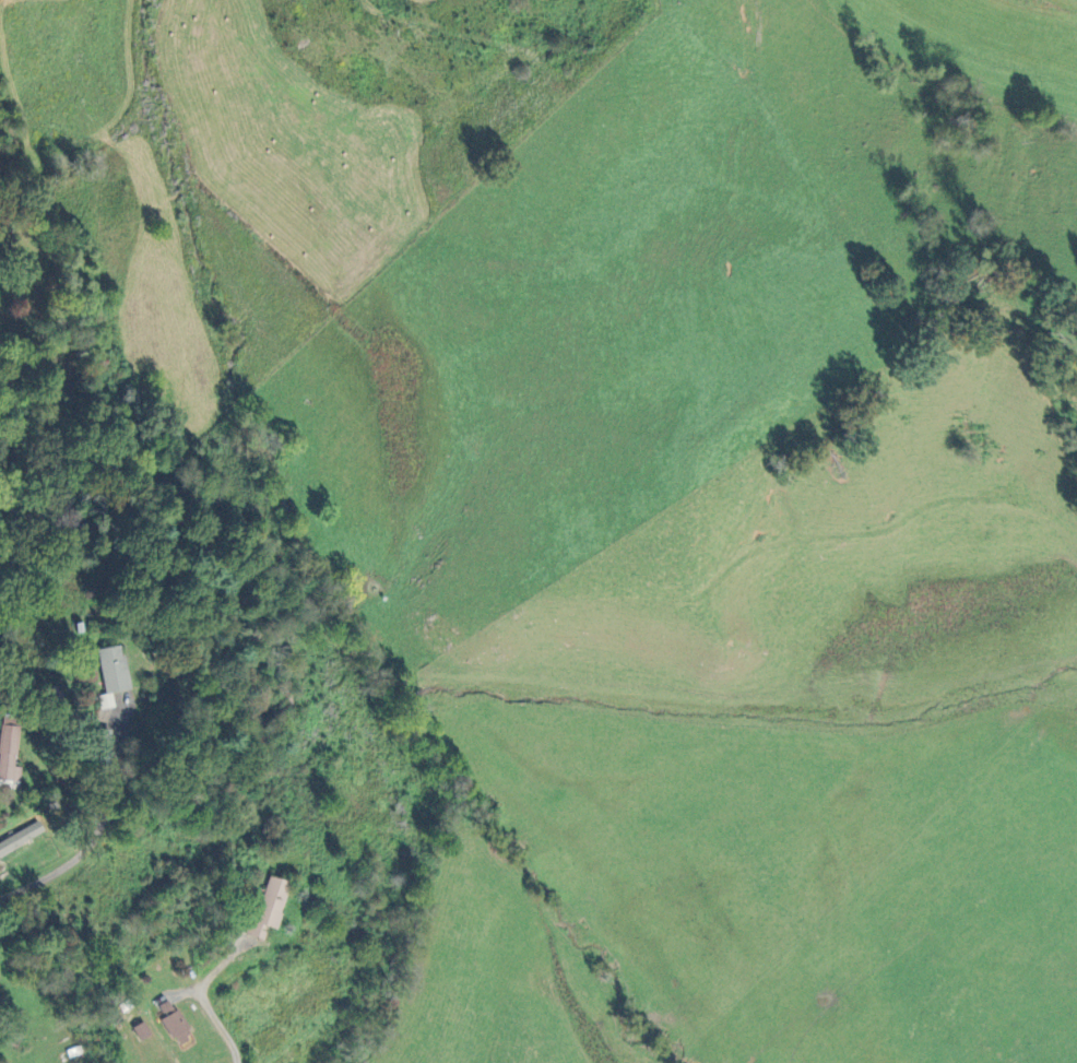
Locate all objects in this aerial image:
building: (114, 668)
building: (12, 749)
road: (93, 836)
building: (21, 837)
building: (269, 908)
road: (182, 956)
building: (175, 1023)
building: (142, 1030)

